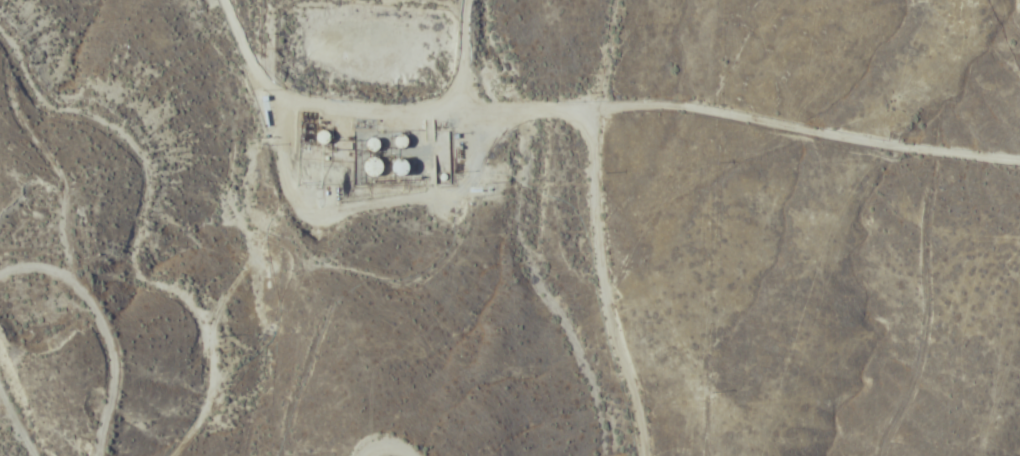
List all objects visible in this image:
road: (746, 89)
building: (319, 138)
building: (399, 141)
building: (371, 146)
building: (372, 167)
building: (401, 167)

